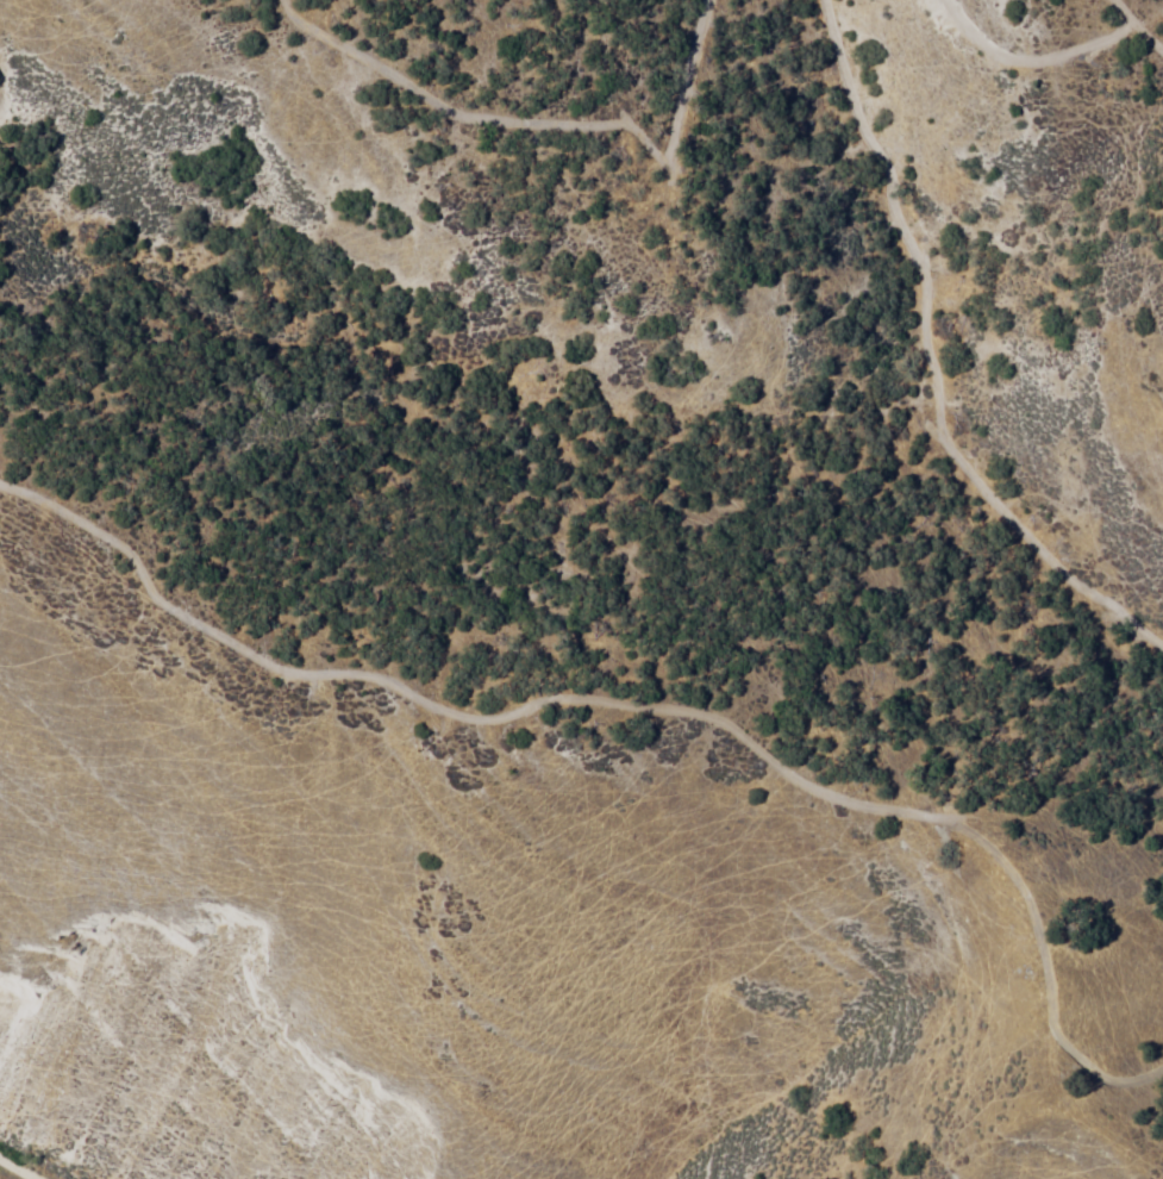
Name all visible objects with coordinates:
road: (25, 1162)

